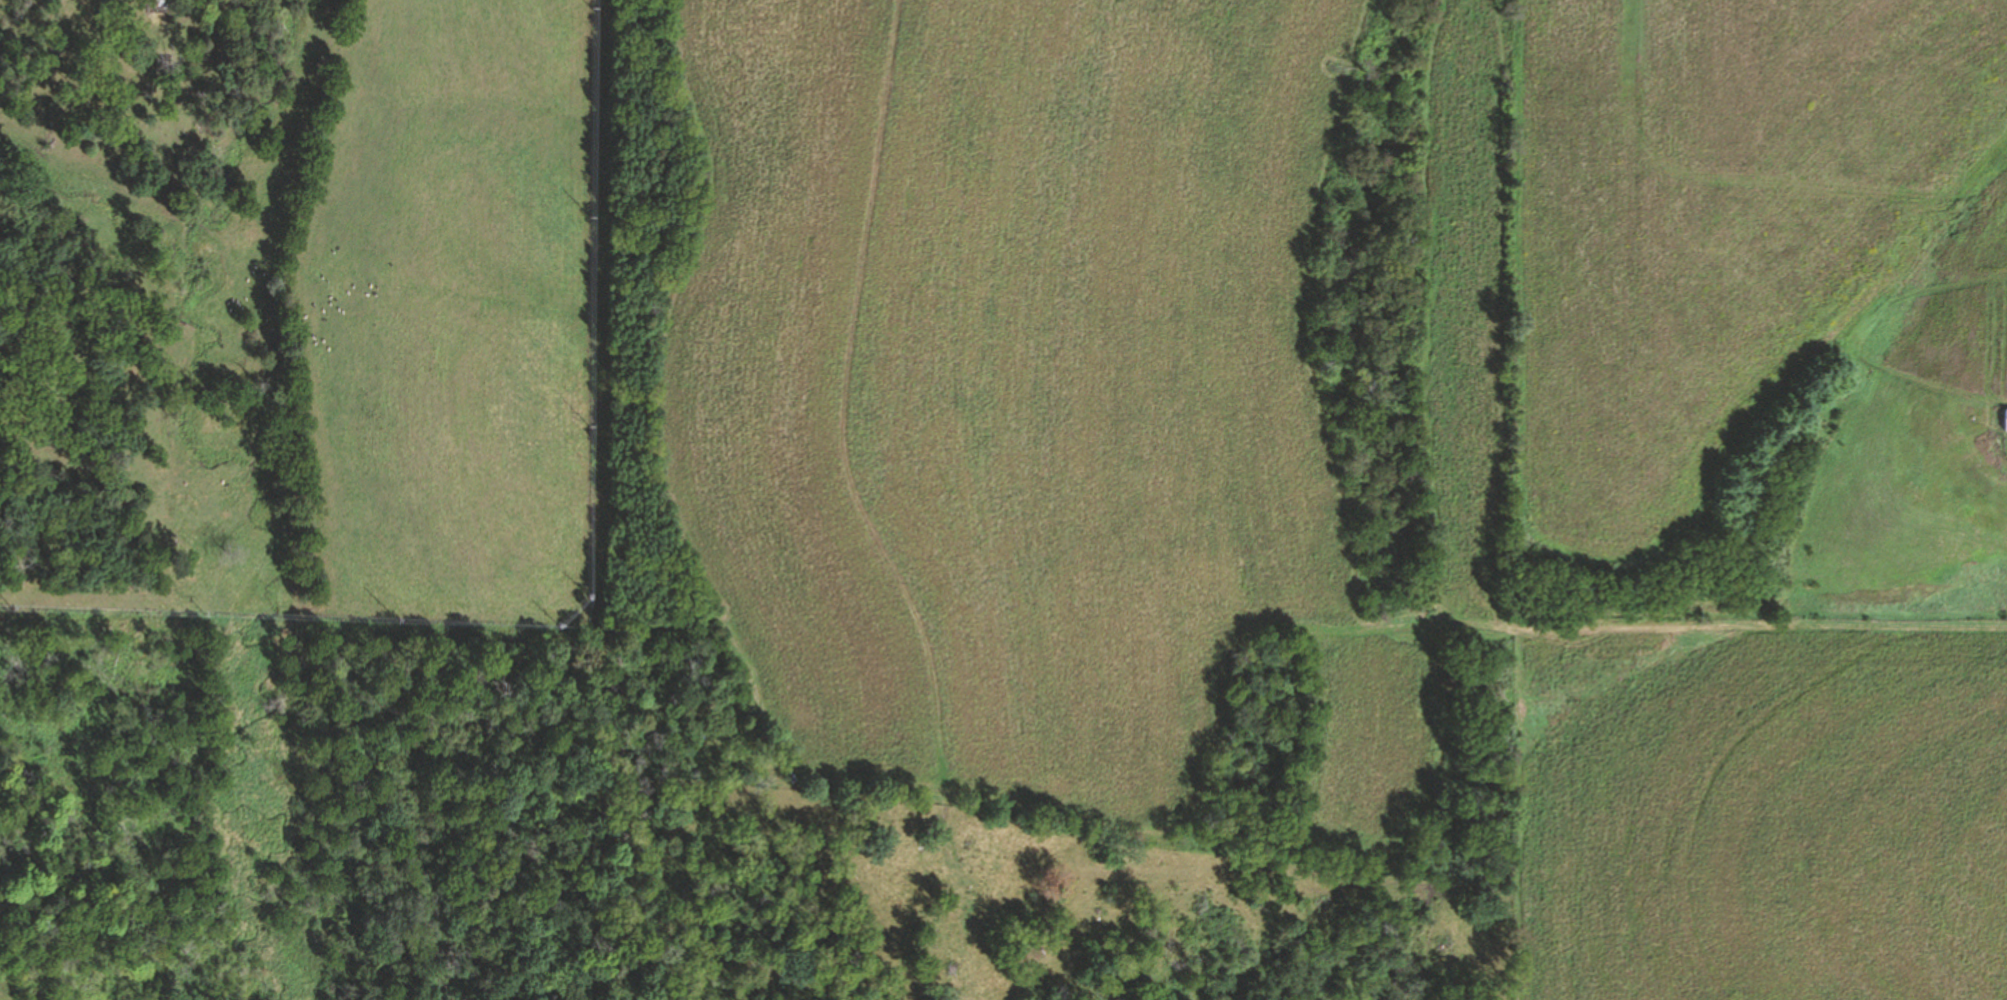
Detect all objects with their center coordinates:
building: (2006, 420)

